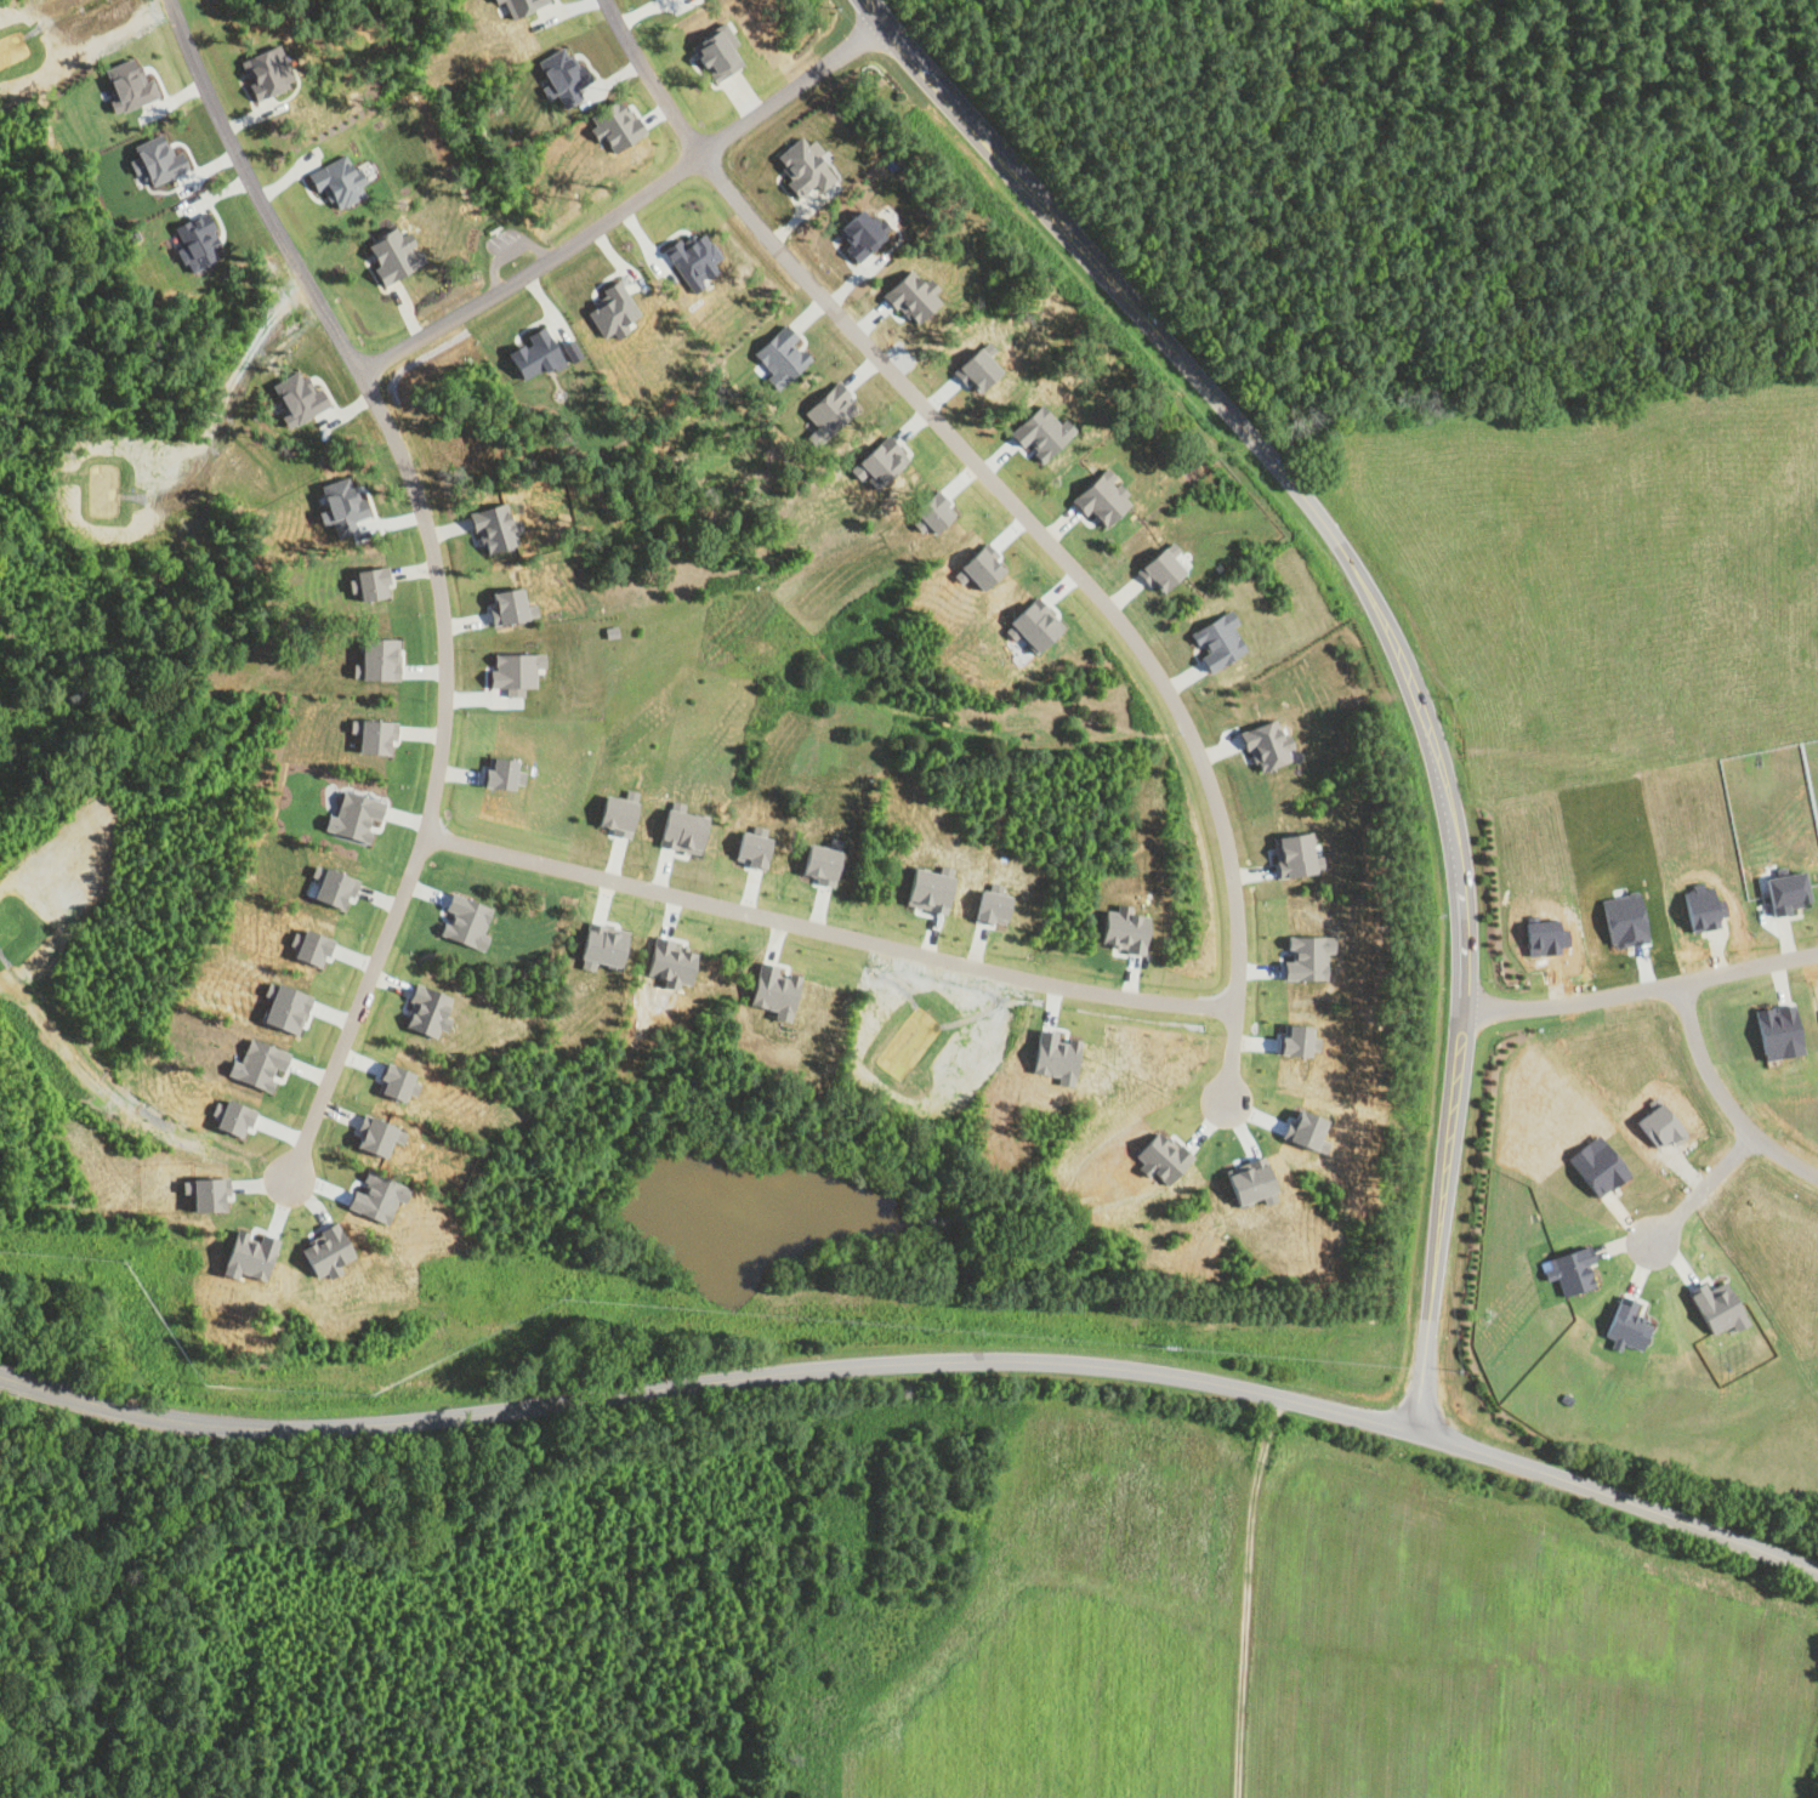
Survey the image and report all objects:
road: (626, 205)
road: (1017, 508)
road: (437, 574)
road: (1384, 628)
road: (826, 931)
road: (1640, 990)
road: (1722, 1097)
road: (1704, 1187)
road: (919, 1362)
road: (1244, 1595)

